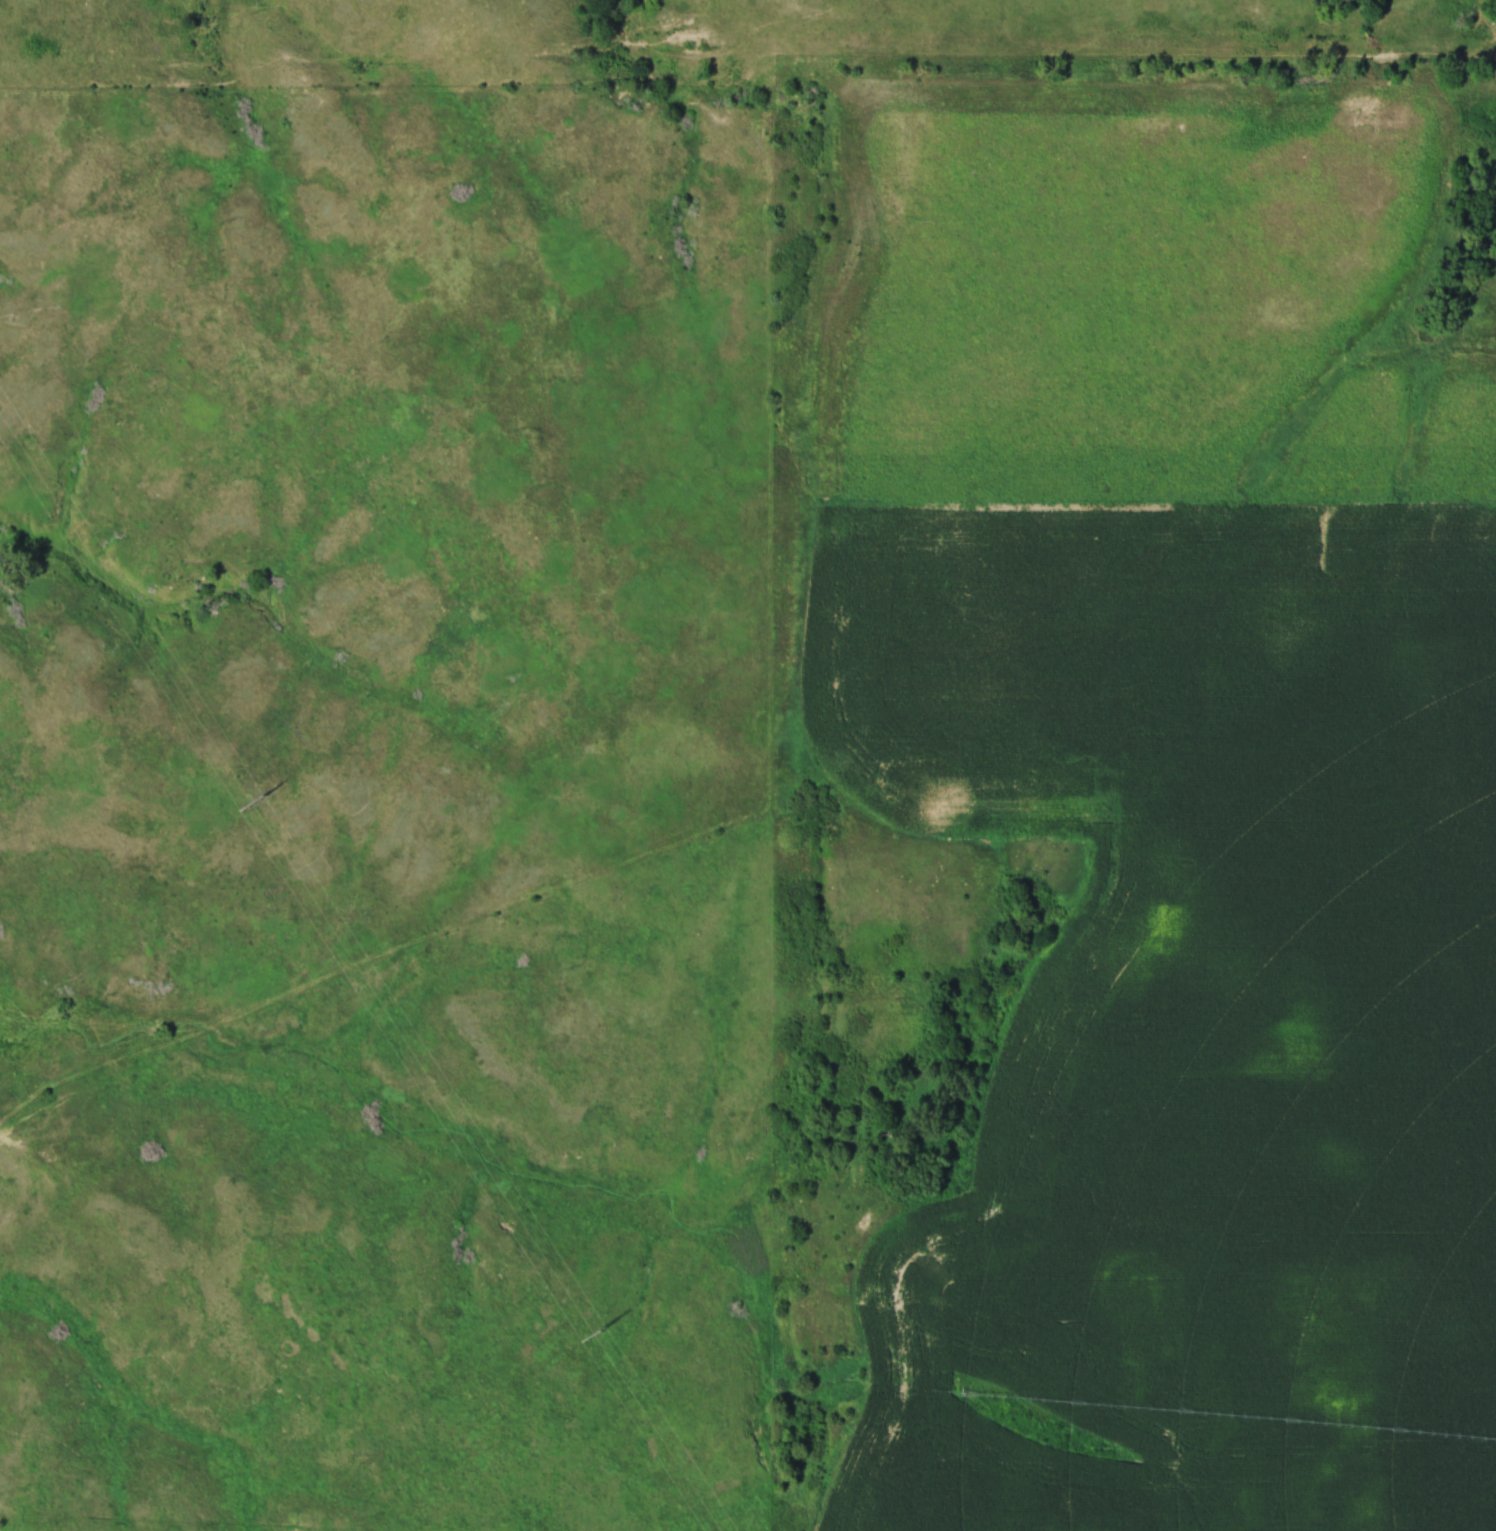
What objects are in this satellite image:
power tower: (257, 805)
power tower: (607, 1340)

